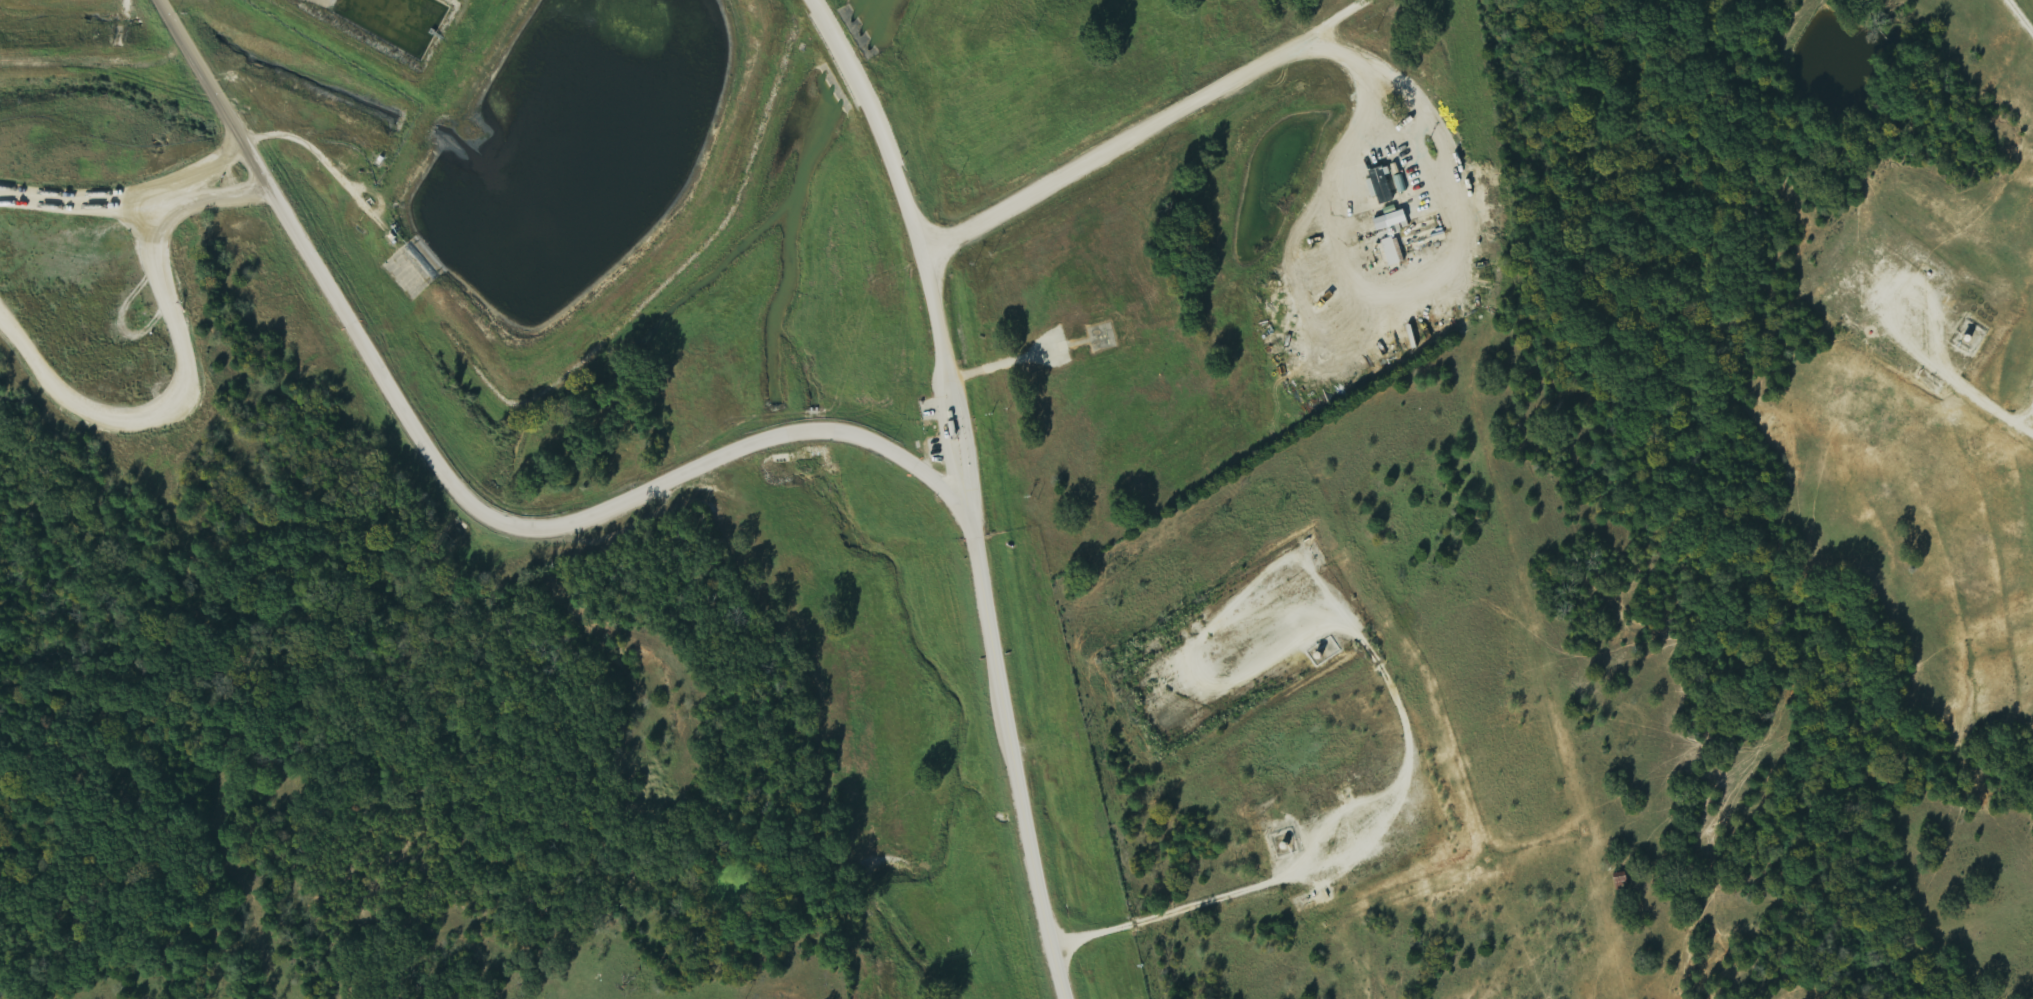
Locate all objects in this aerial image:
road: (1250, 67)
building: (1383, 186)
building: (1394, 221)
building: (1392, 253)
power plant: (367, 257)
road: (456, 487)
road: (969, 489)

